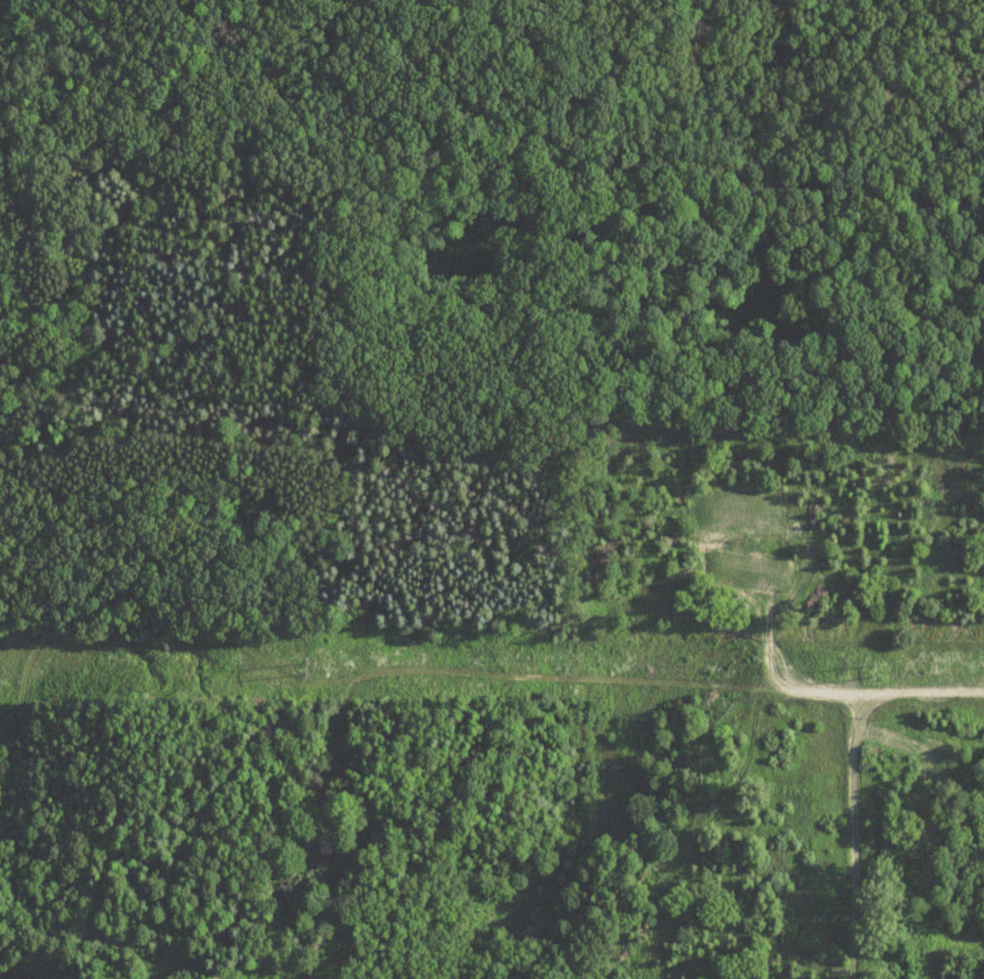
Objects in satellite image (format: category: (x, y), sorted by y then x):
power tower: (308, 666)
power tower: (868, 672)
road: (180, 962)

